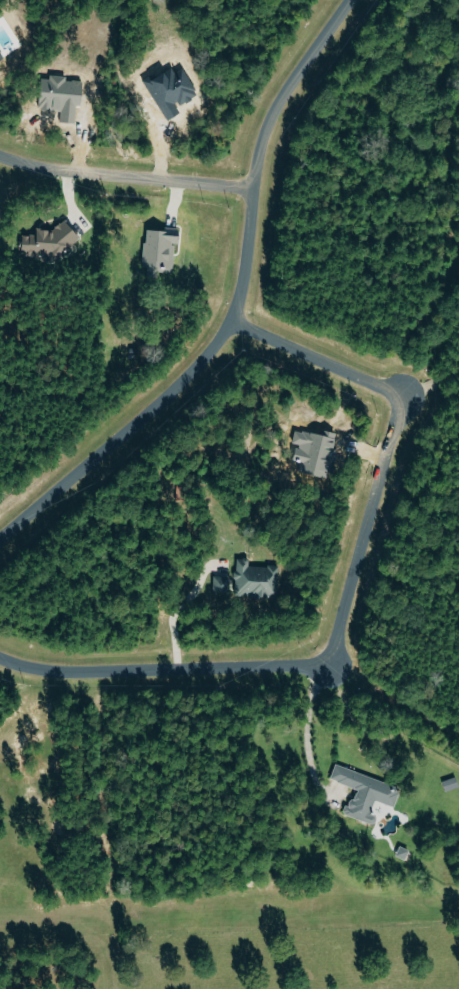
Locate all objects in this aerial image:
road: (125, 178)
building: (50, 240)
building: (160, 251)
road: (236, 306)
road: (427, 387)
building: (256, 580)
building: (221, 586)
road: (346, 603)
road: (173, 615)
road: (306, 732)
building: (366, 792)

